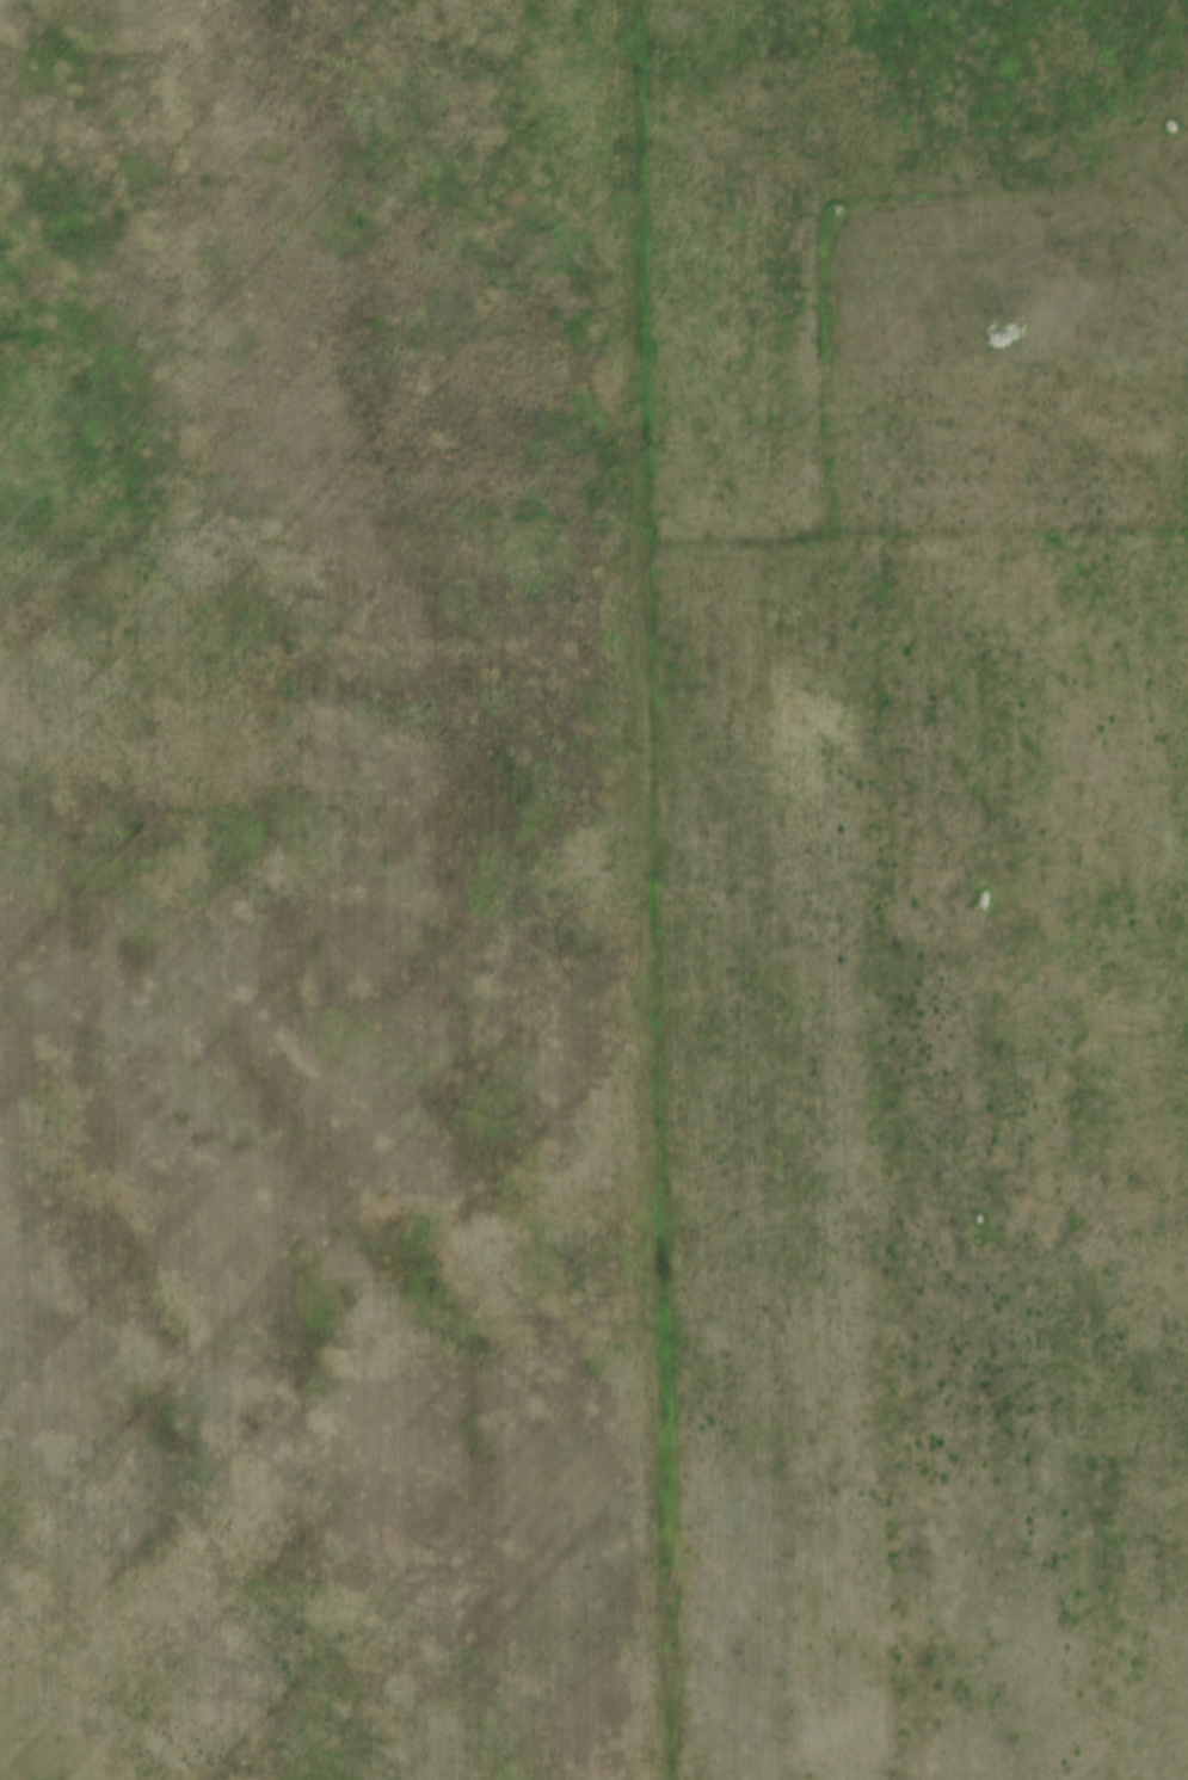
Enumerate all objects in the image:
road: (638, 889)

